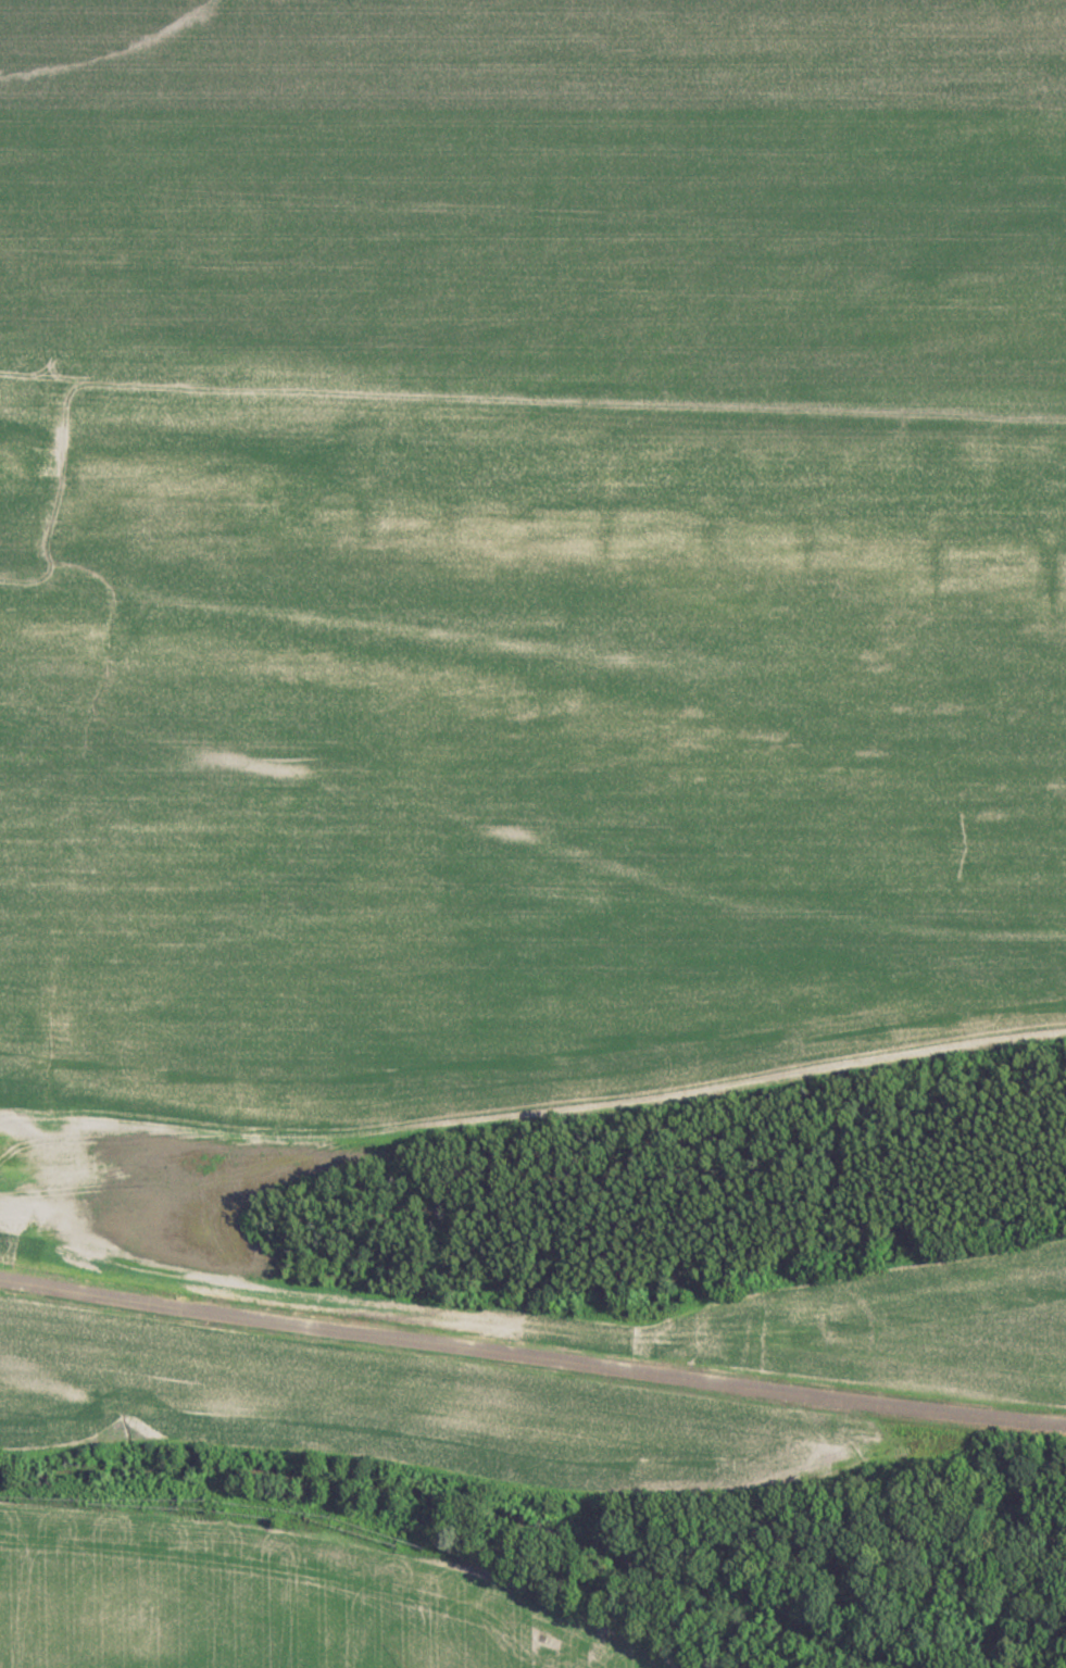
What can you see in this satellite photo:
road: (531, 1356)

